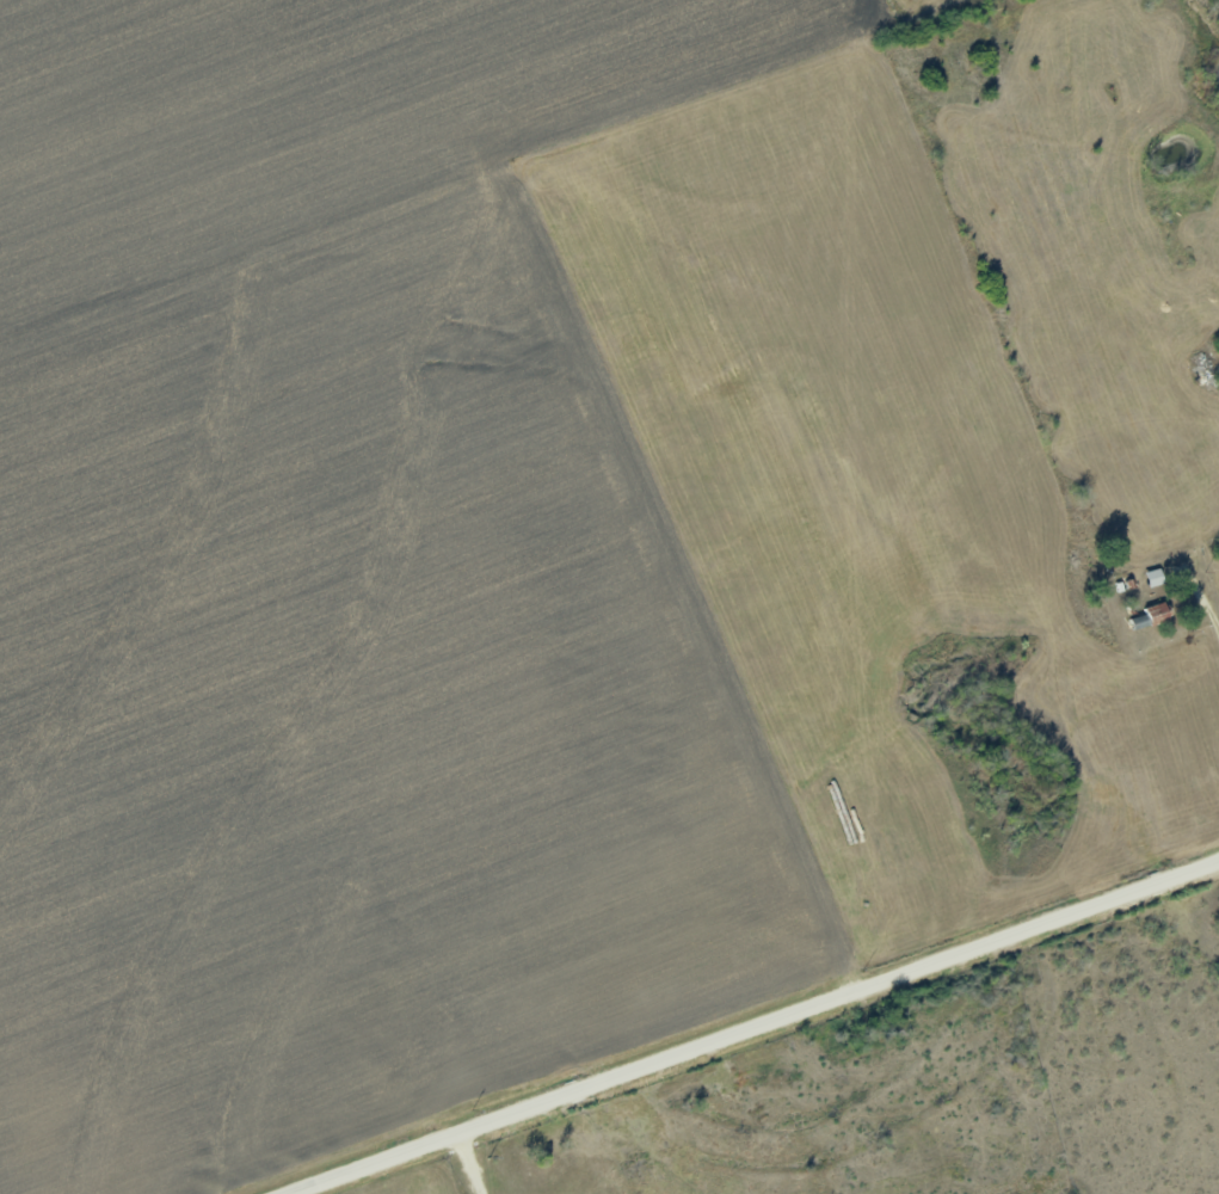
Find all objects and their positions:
building: (1157, 613)
road: (1211, 614)
building: (1139, 621)
road: (752, 1026)
road: (467, 1164)

